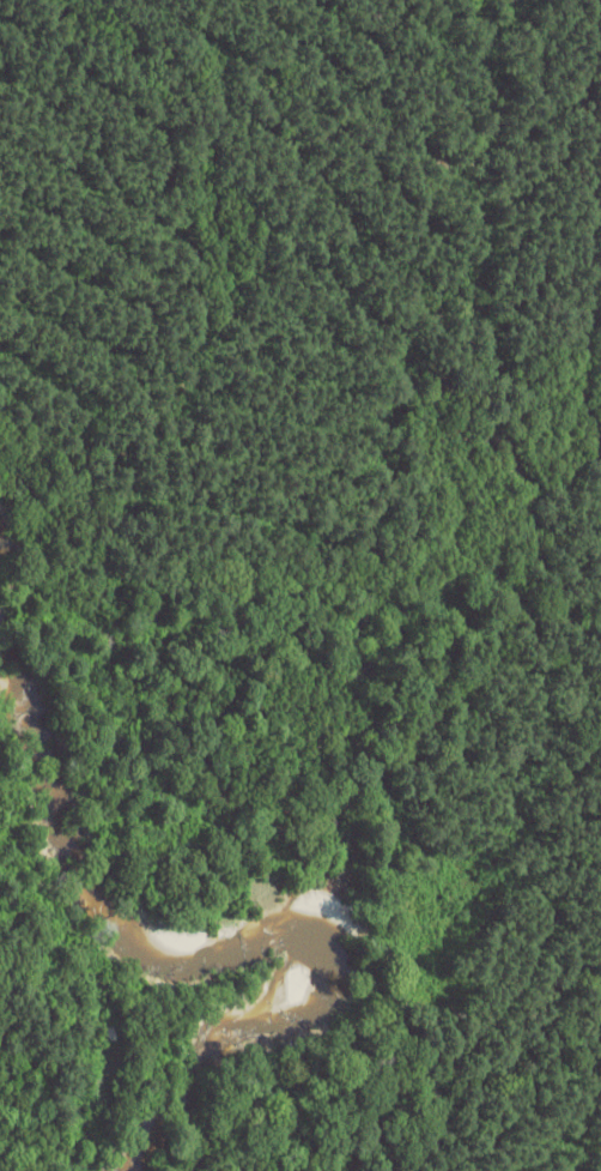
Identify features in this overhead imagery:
river: (242, 943)

